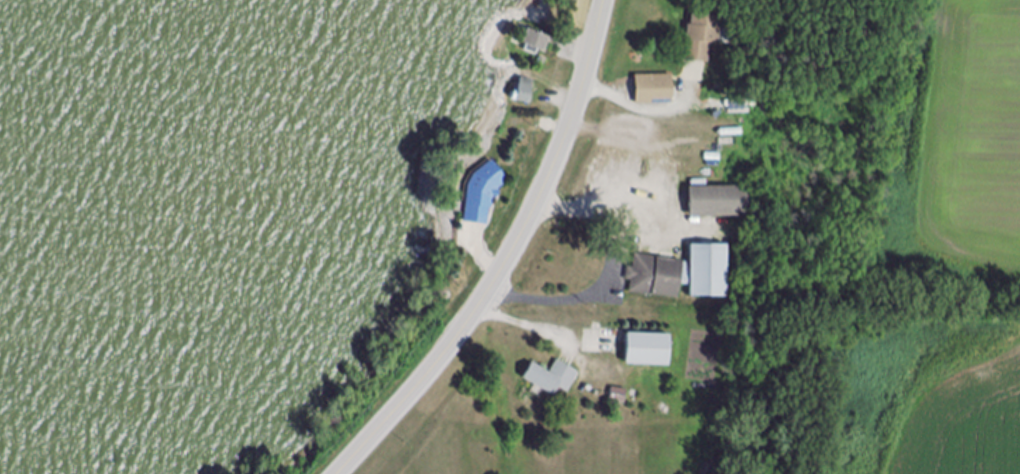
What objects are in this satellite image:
building: (702, 39)
building: (776, 40)
building: (537, 43)
building: (654, 93)
building: (524, 94)
road: (649, 110)
road: (617, 194)
building: (482, 197)
building: (717, 204)
road: (512, 259)
building: (682, 276)
crop: (937, 284)
road: (597, 292)
building: (648, 352)
building: (551, 379)
building: (618, 398)

